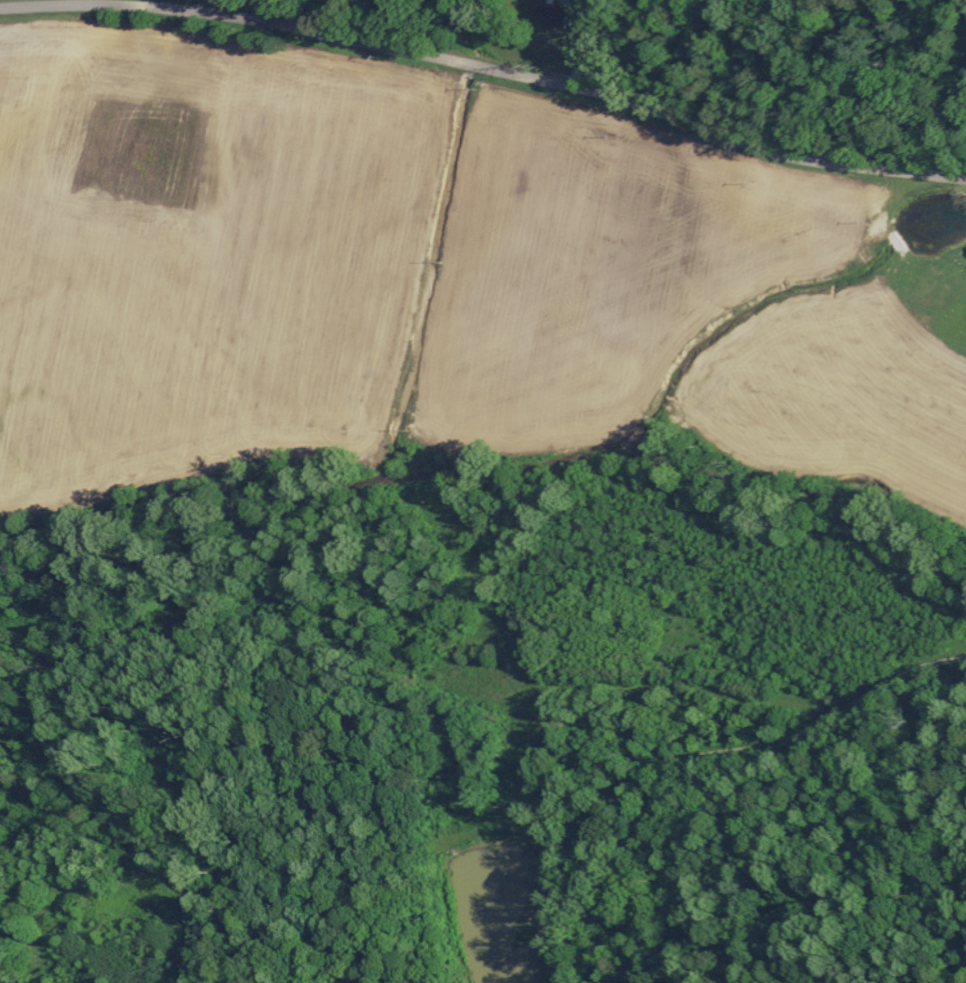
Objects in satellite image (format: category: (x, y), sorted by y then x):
road: (211, 13)
building: (546, 16)
road: (418, 27)
road: (692, 122)
building: (965, 249)
building: (959, 321)

